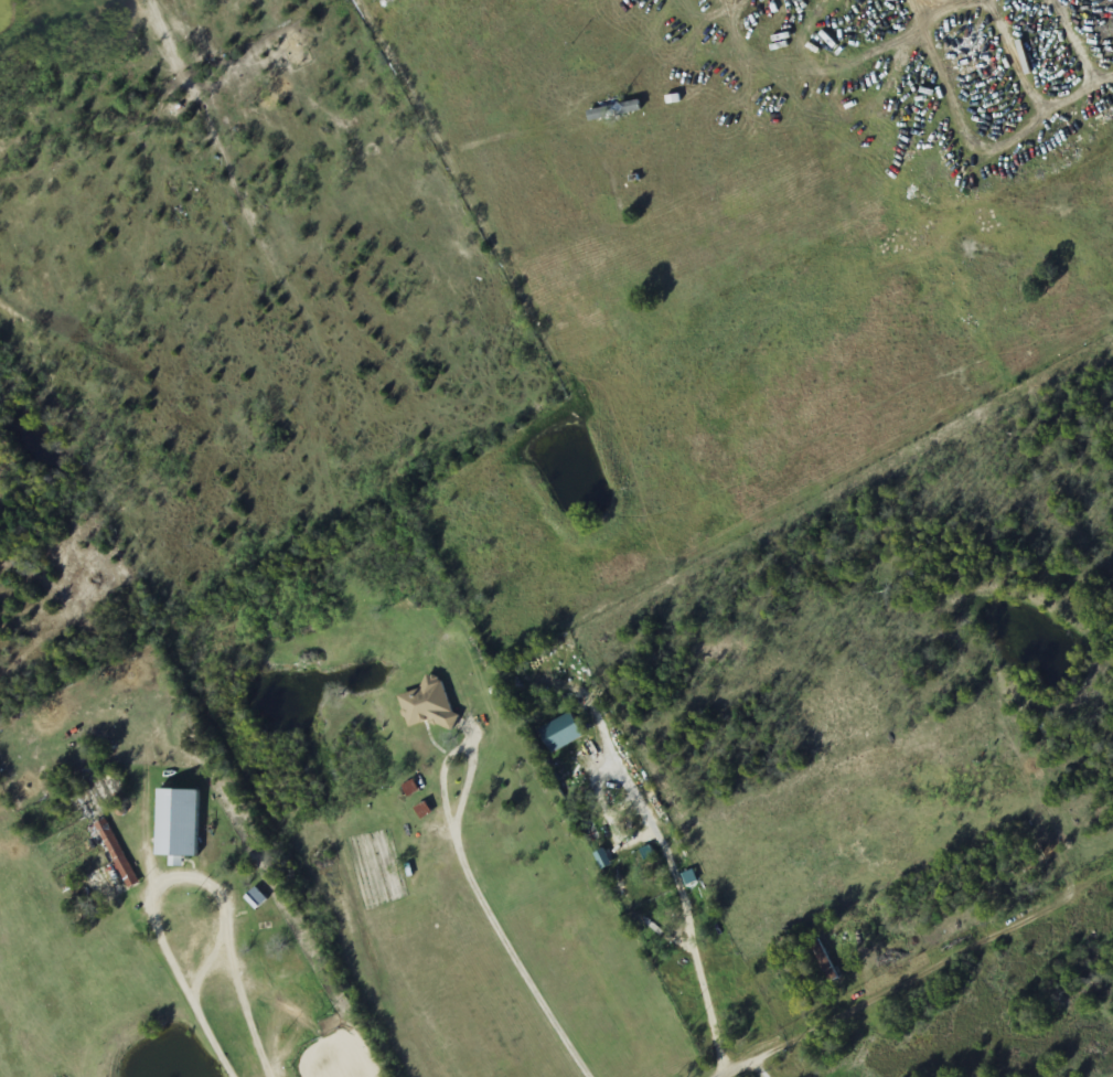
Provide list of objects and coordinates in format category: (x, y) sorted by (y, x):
road: (311, 34)
building: (613, 110)
building: (624, 328)
building: (429, 705)
building: (178, 825)
building: (126, 872)
building: (256, 898)
road: (748, 1062)

